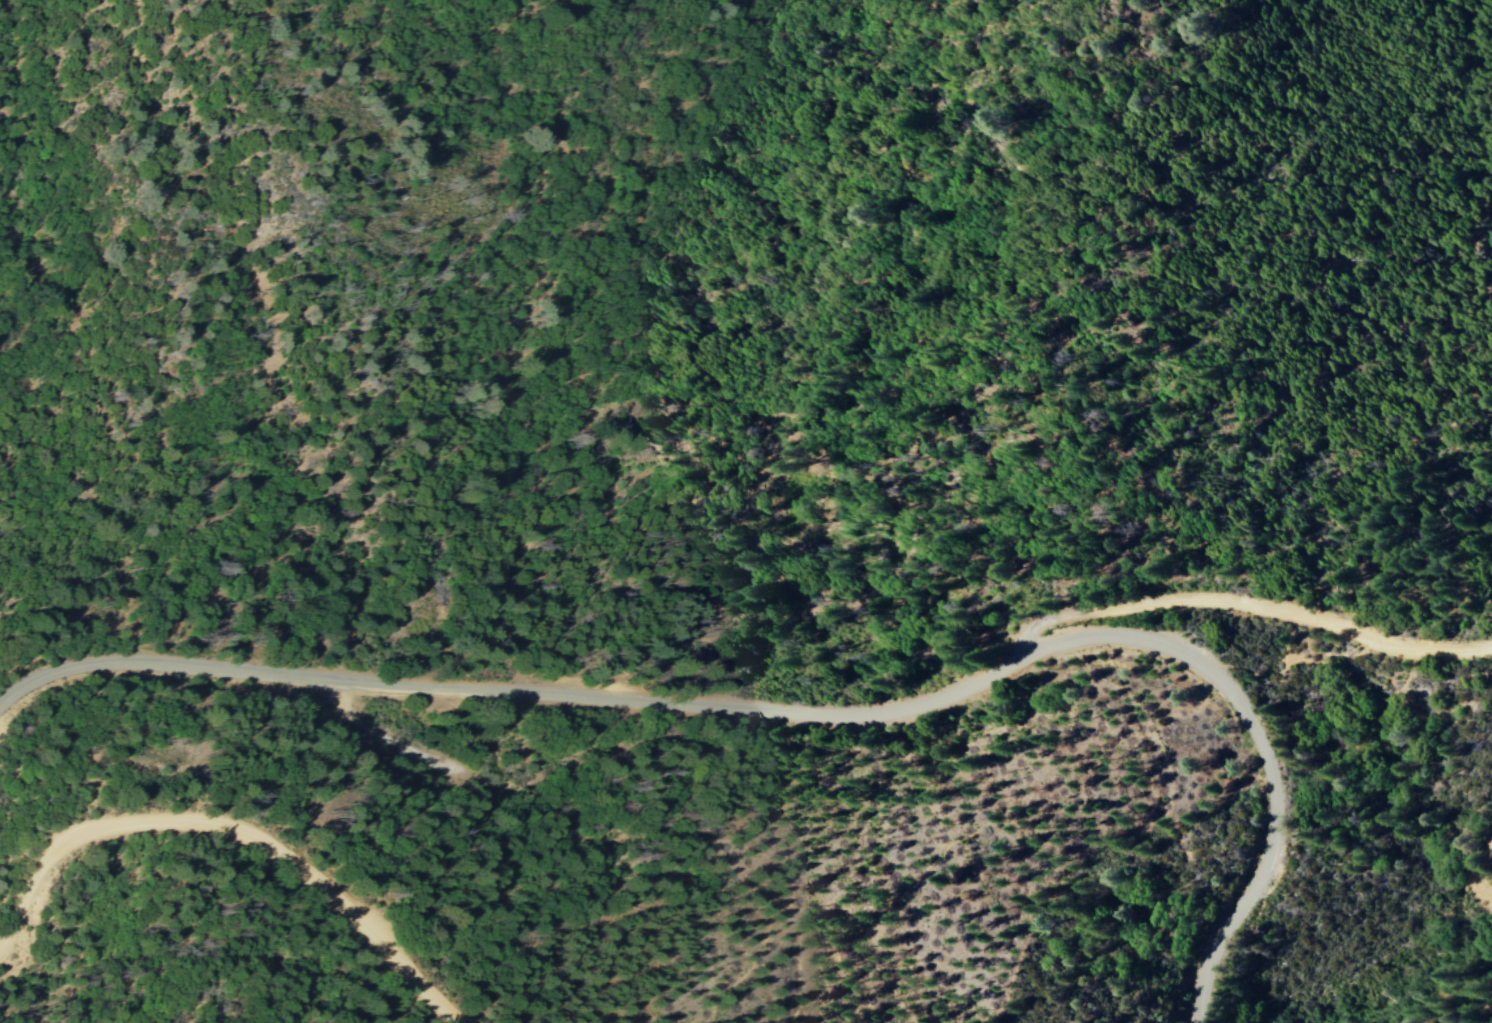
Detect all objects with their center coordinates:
road: (1249, 609)
road: (804, 714)
road: (235, 826)
road: (1476, 877)

